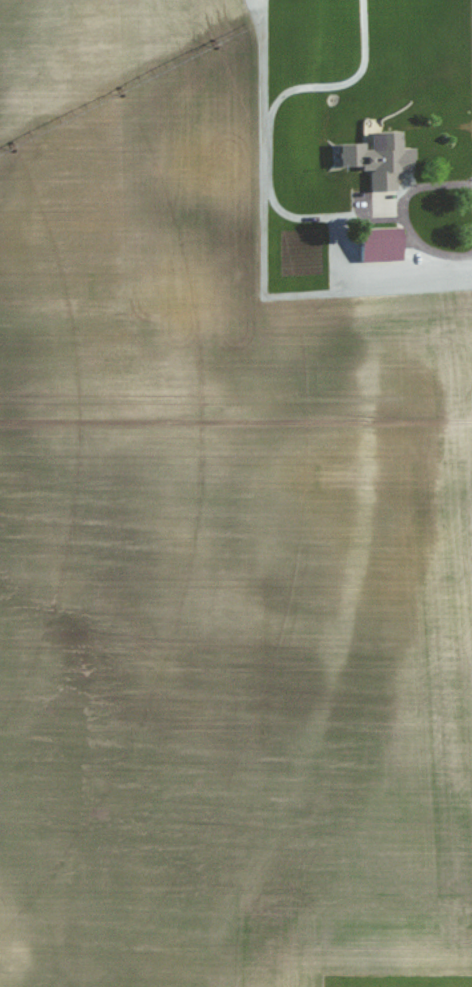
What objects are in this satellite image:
building: (388, 162)
building: (382, 243)
road: (388, 280)

